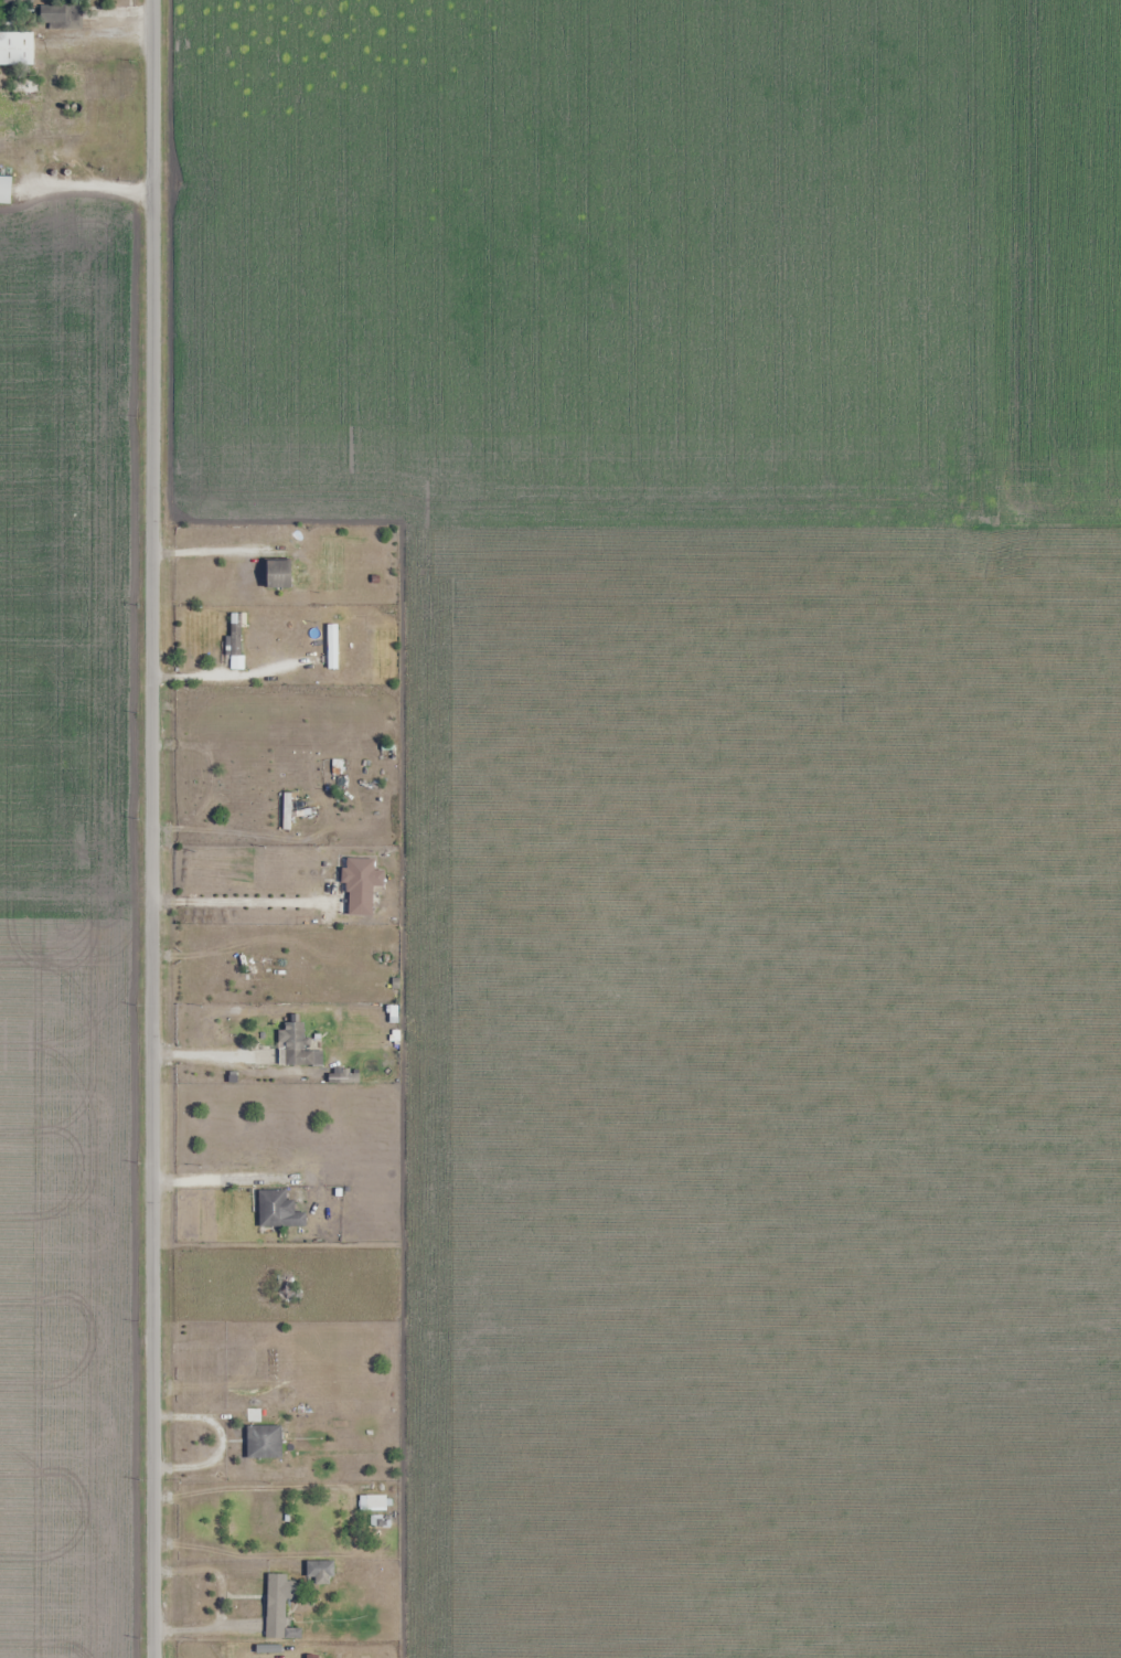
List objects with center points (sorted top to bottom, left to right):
building: (58, 17)
building: (15, 49)
building: (21, 85)
building: (4, 189)
building: (276, 574)
building: (234, 635)
building: (331, 647)
road: (152, 829)
building: (360, 886)
building: (297, 973)
building: (297, 1048)
building: (271, 1209)
building: (288, 1289)
building: (263, 1442)
road: (255, 1490)
building: (377, 1501)
building: (319, 1570)
building: (279, 1607)
road: (205, 1632)
building: (310, 1657)

